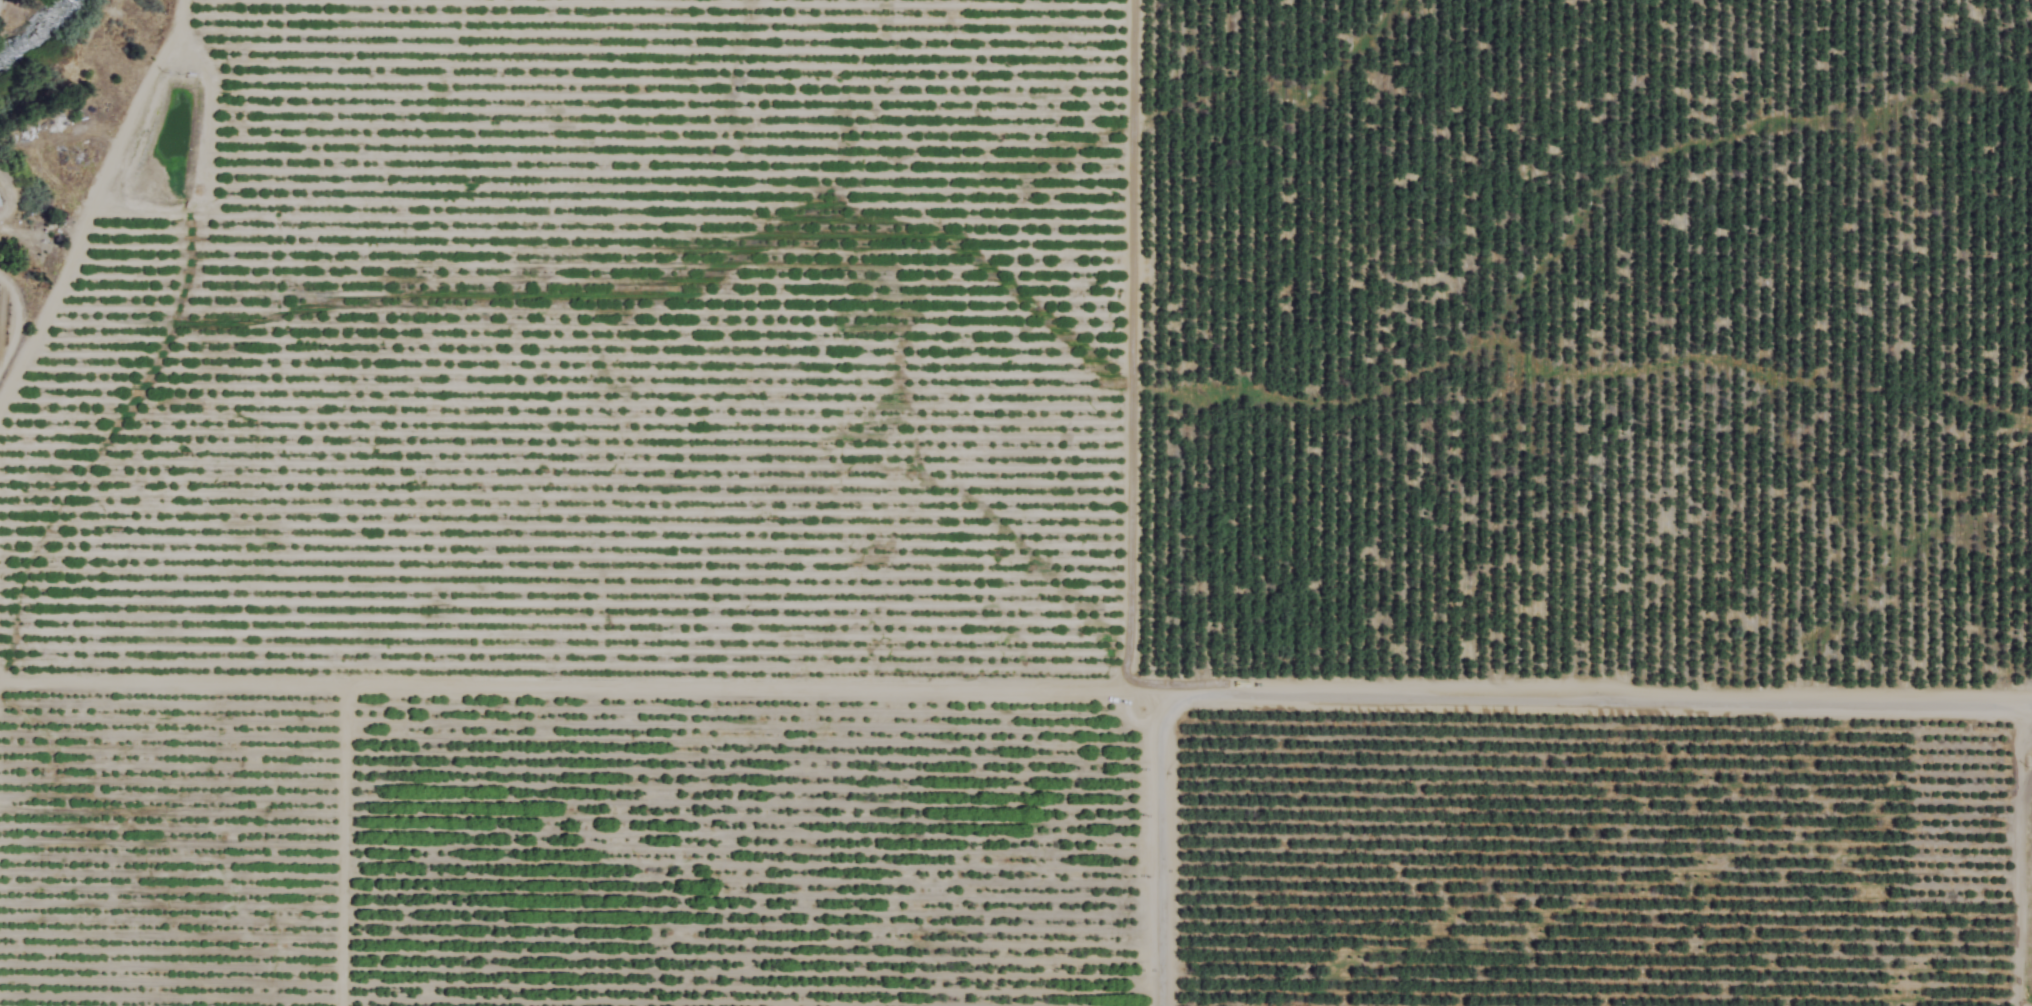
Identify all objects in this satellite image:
crop: (1022, 506)
road: (589, 686)
road: (1593, 705)
road: (1162, 863)

